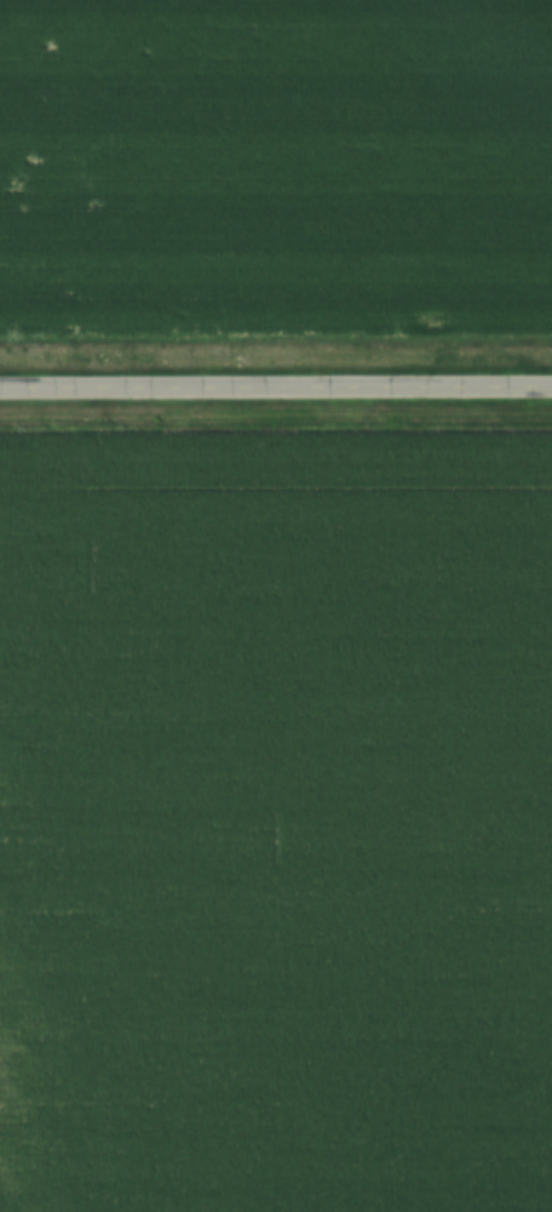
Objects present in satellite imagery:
road: (276, 393)

